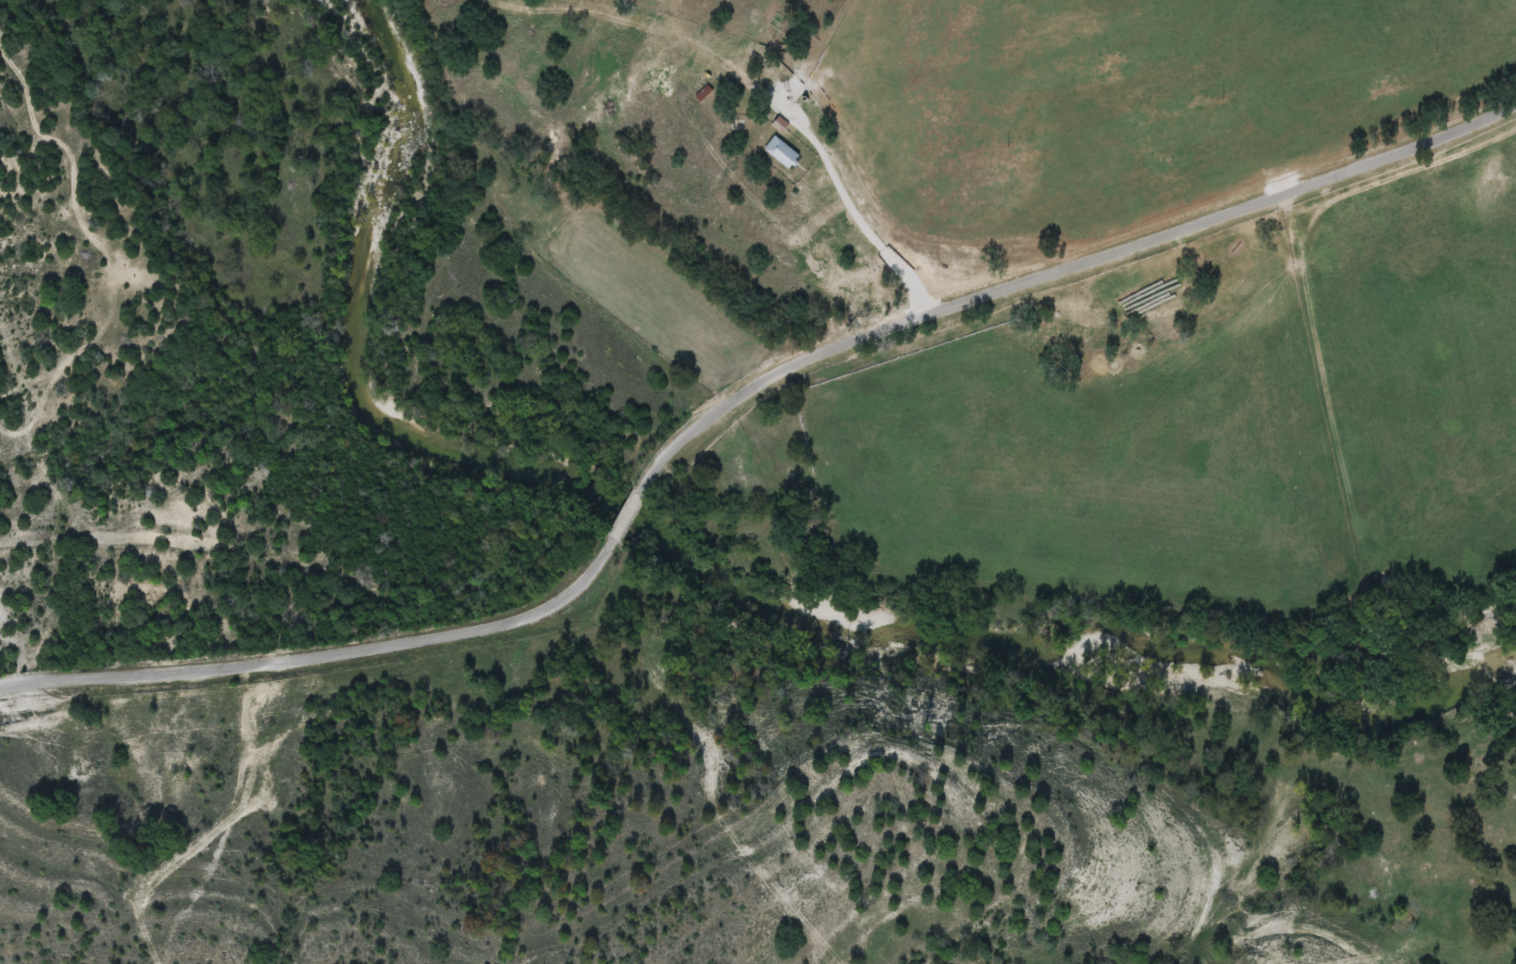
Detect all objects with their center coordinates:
building: (779, 152)
road: (1064, 270)
road: (619, 518)
road: (314, 663)

